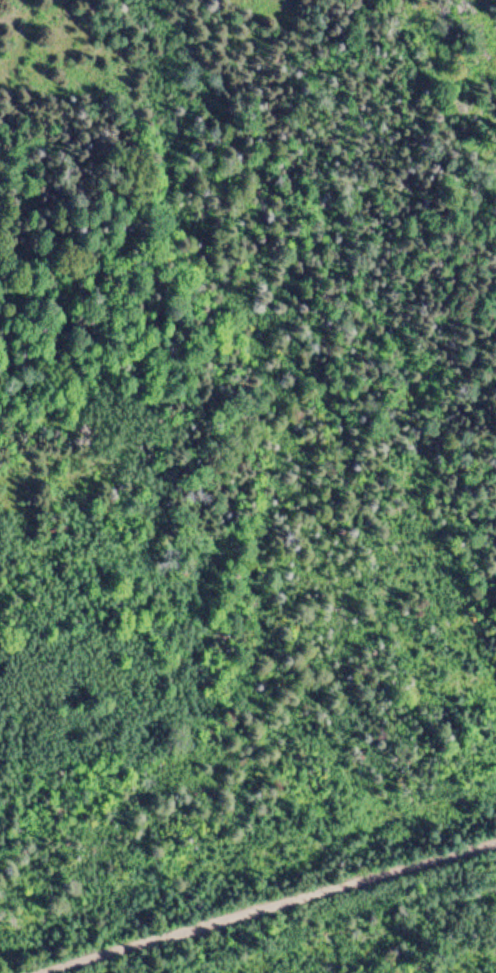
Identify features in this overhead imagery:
road: (248, 900)

